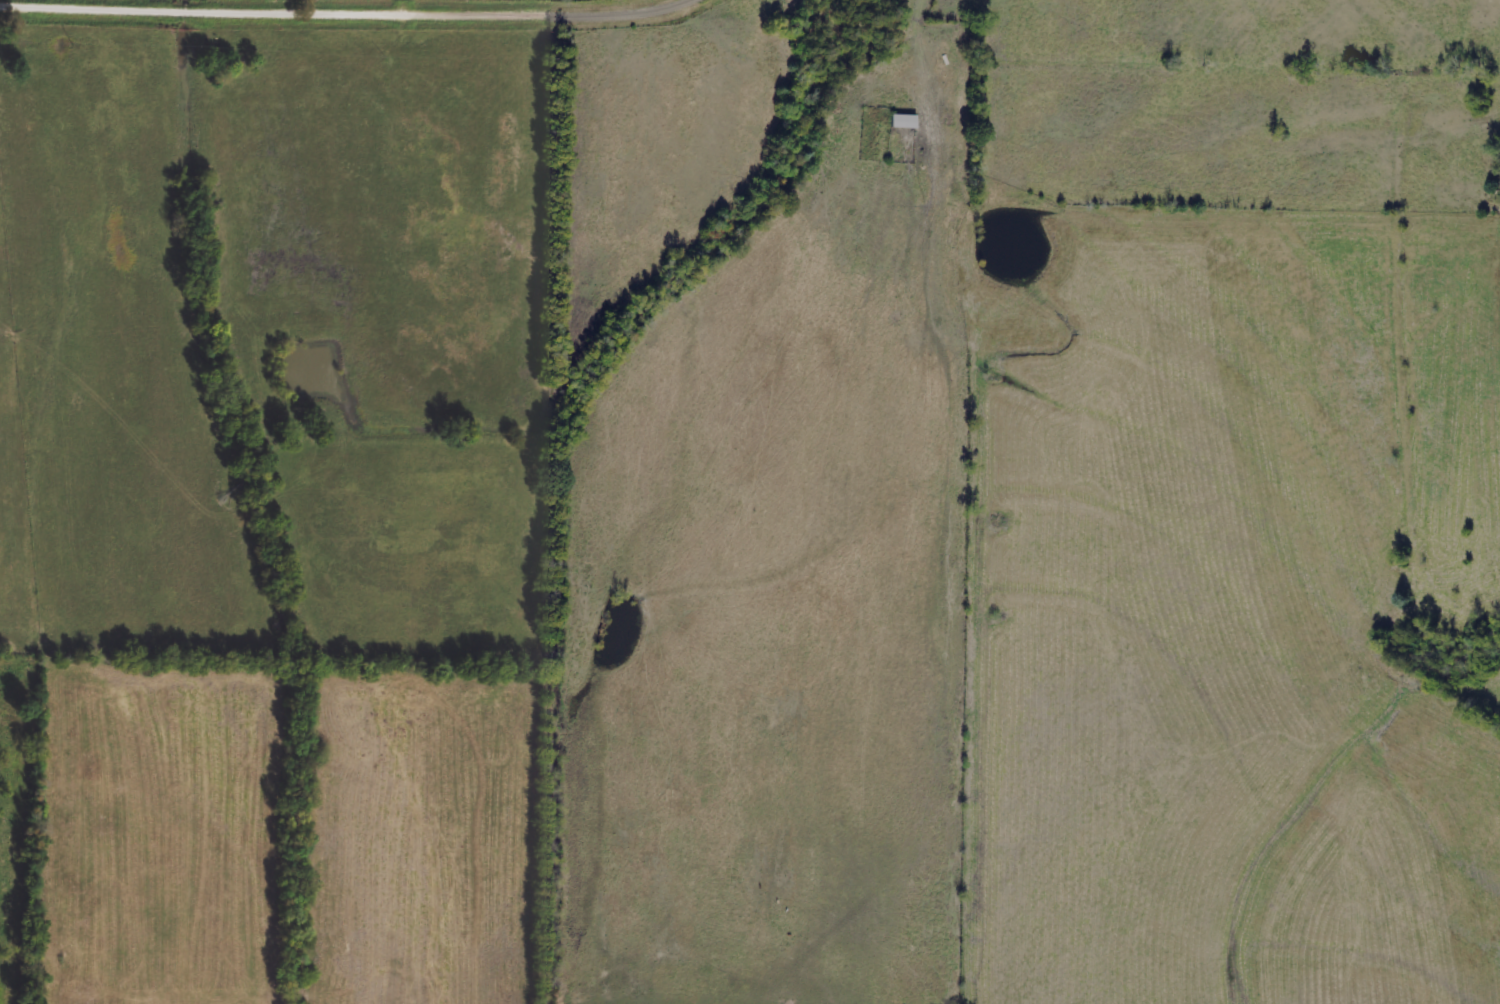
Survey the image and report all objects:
road: (333, 11)
building: (901, 123)

